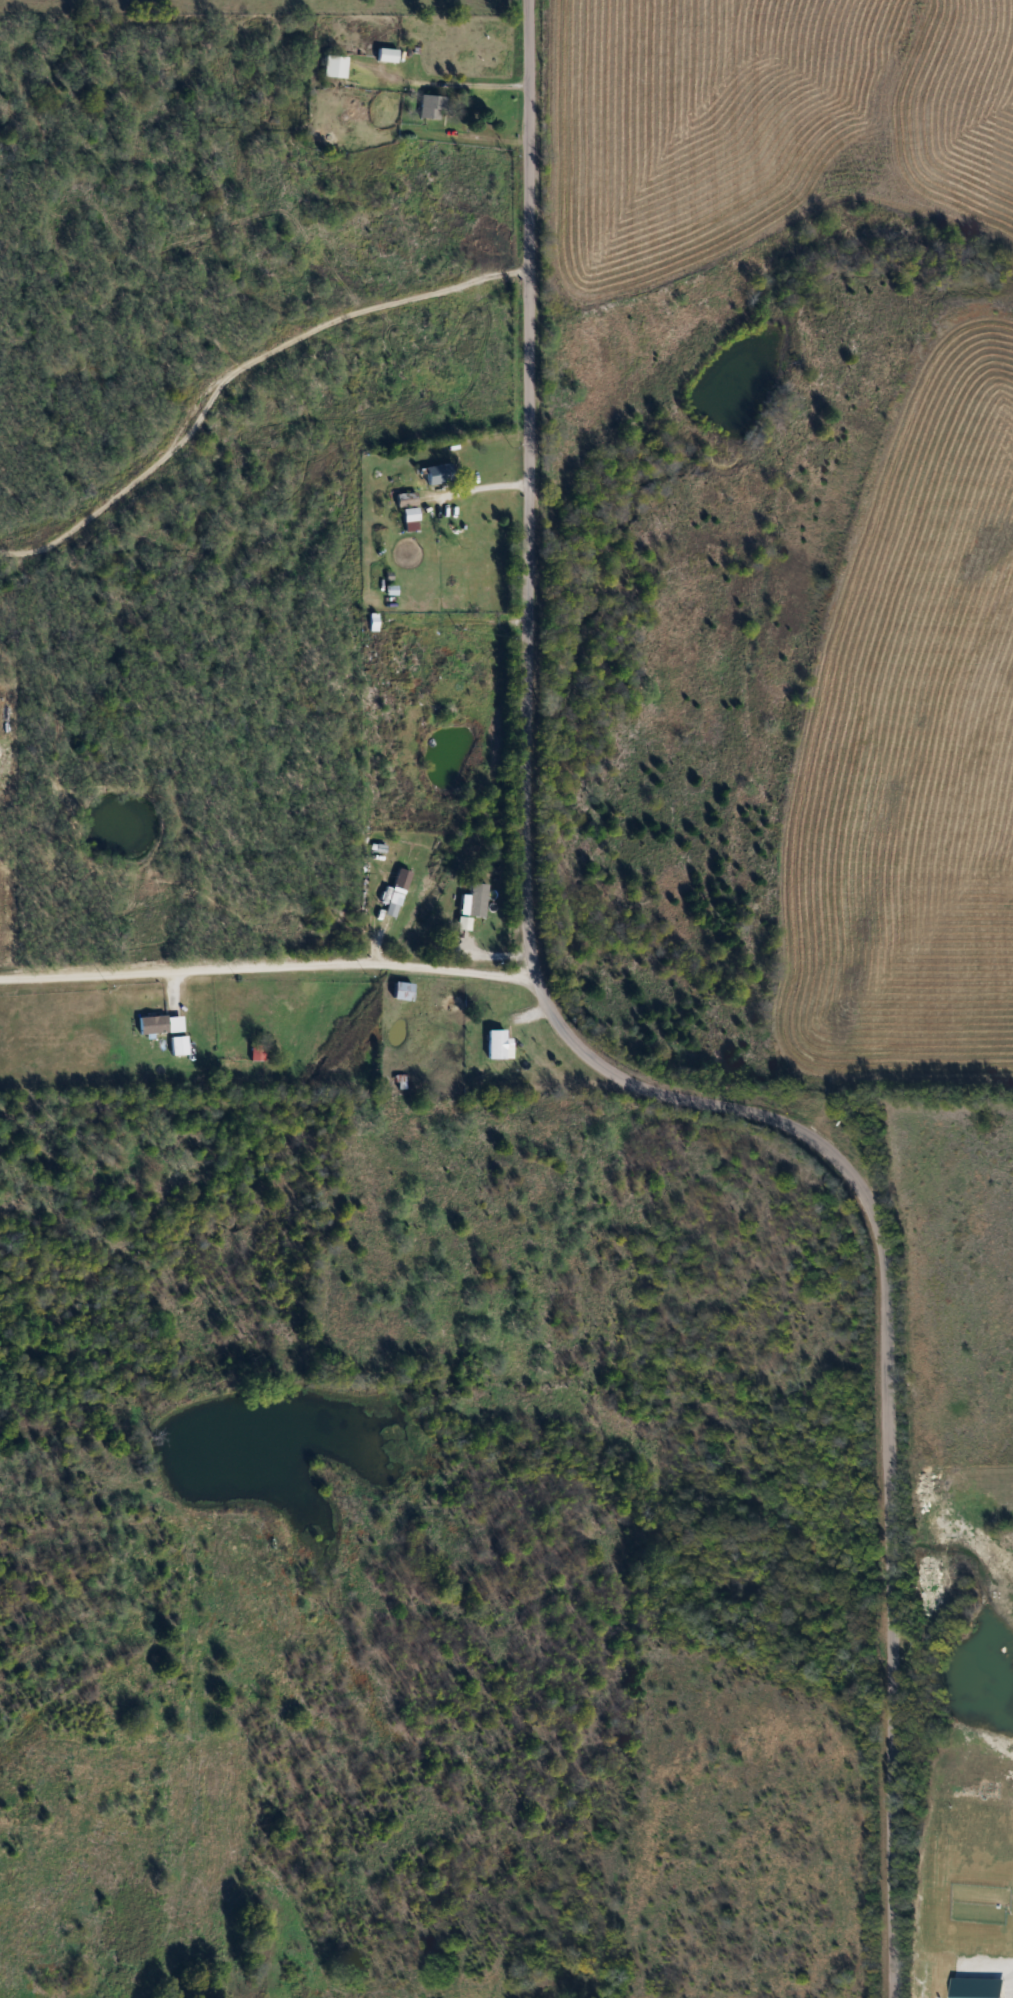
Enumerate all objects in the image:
building: (384, 55)
building: (332, 66)
building: (430, 107)
road: (236, 366)
building: (435, 474)
building: (404, 498)
building: (406, 519)
building: (394, 659)
building: (388, 898)
building: (472, 901)
road: (268, 966)
building: (398, 991)
building: (157, 1025)
building: (493, 1045)
building: (175, 1046)
building: (254, 1055)
road: (608, 1070)

